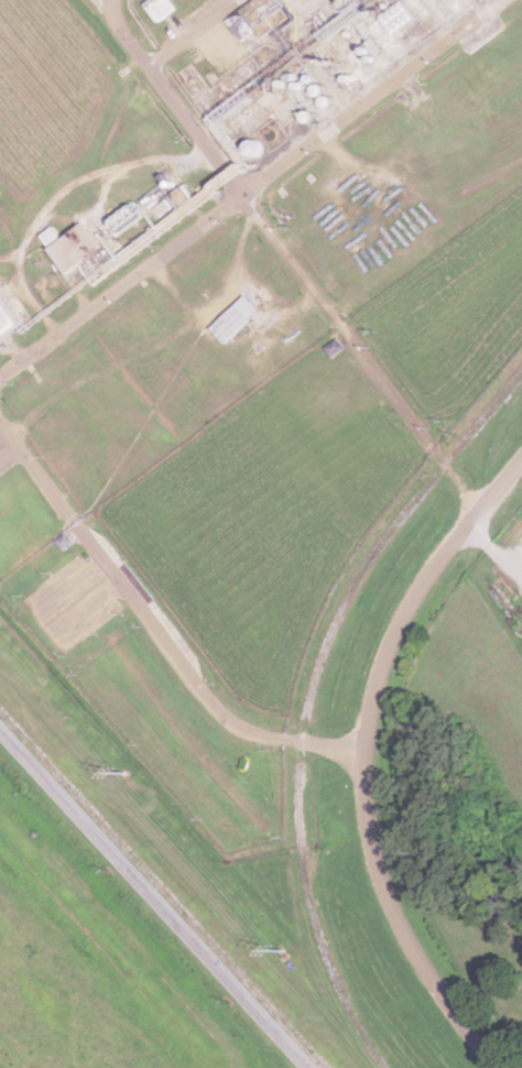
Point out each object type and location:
building: (157, 9)
building: (255, 21)
building: (496, 73)
road: (252, 192)
building: (121, 221)
building: (72, 247)
road: (289, 258)
building: (235, 319)
building: (7, 322)
road: (154, 629)
railway: (311, 696)
road: (365, 758)
power tower: (113, 770)
railway: (163, 890)
road: (154, 900)
power tower: (272, 949)

